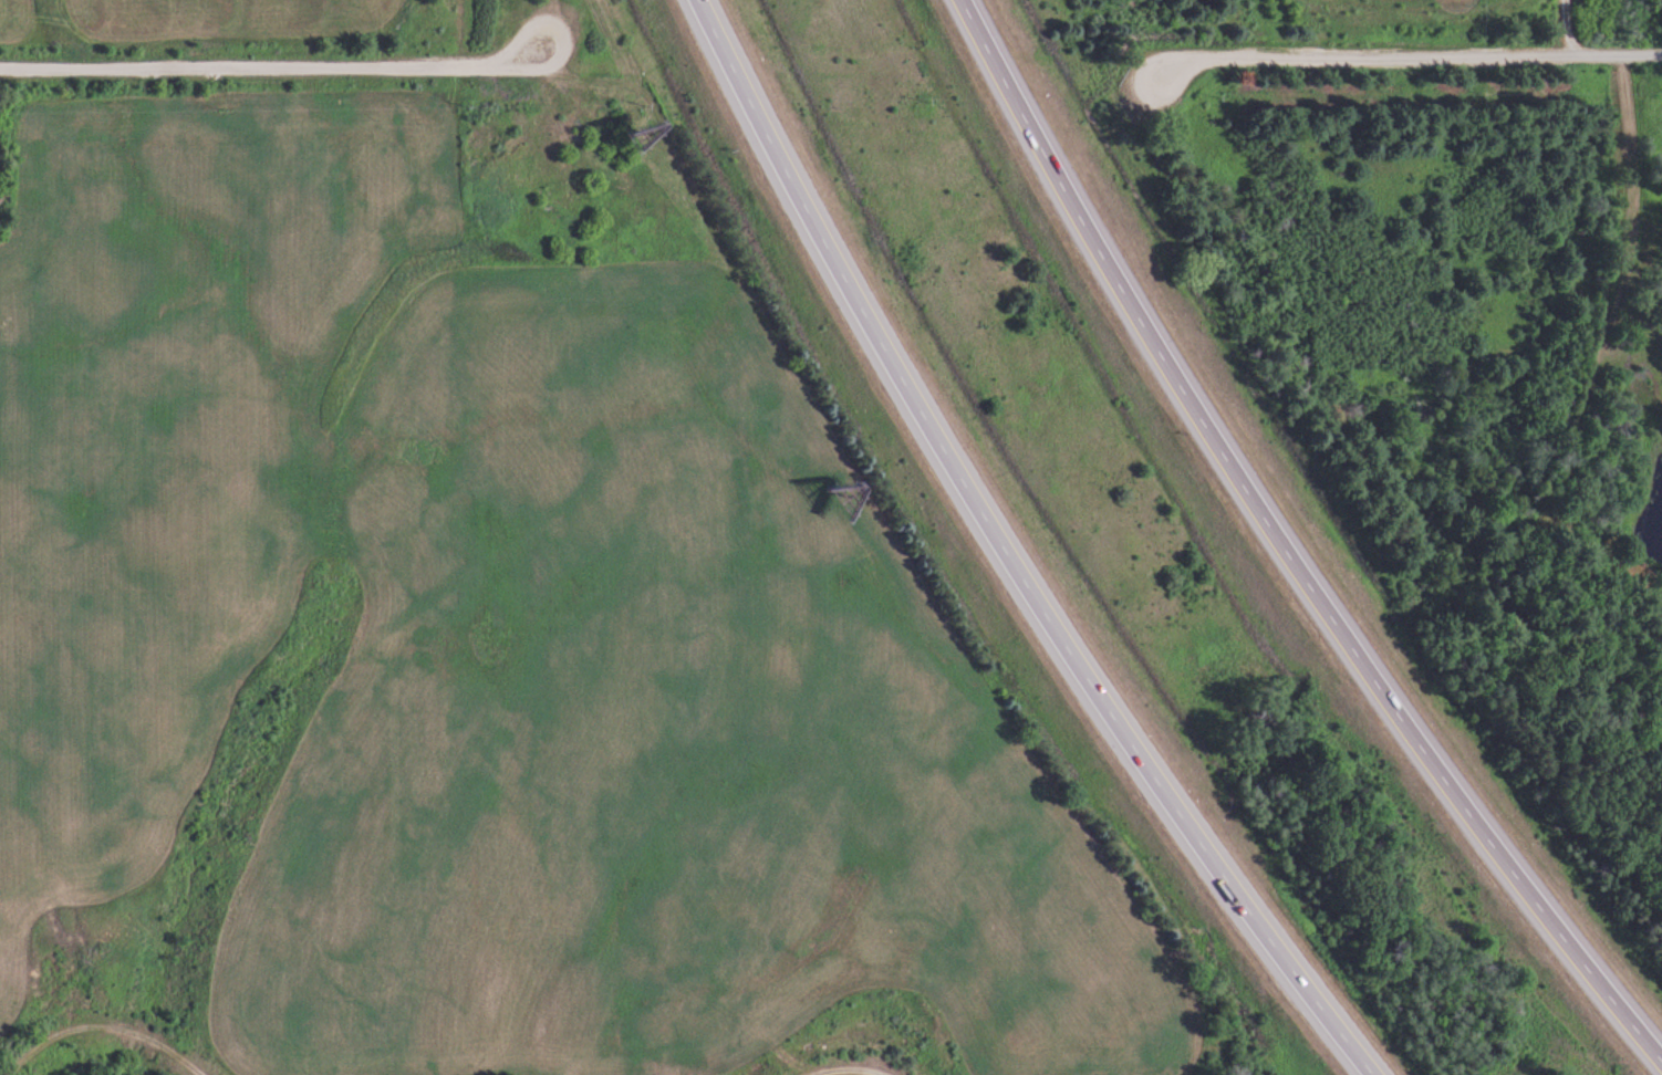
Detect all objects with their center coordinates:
road: (1407, 54)
road: (274, 70)
building: (616, 135)
road: (1280, 547)
road: (1008, 555)

